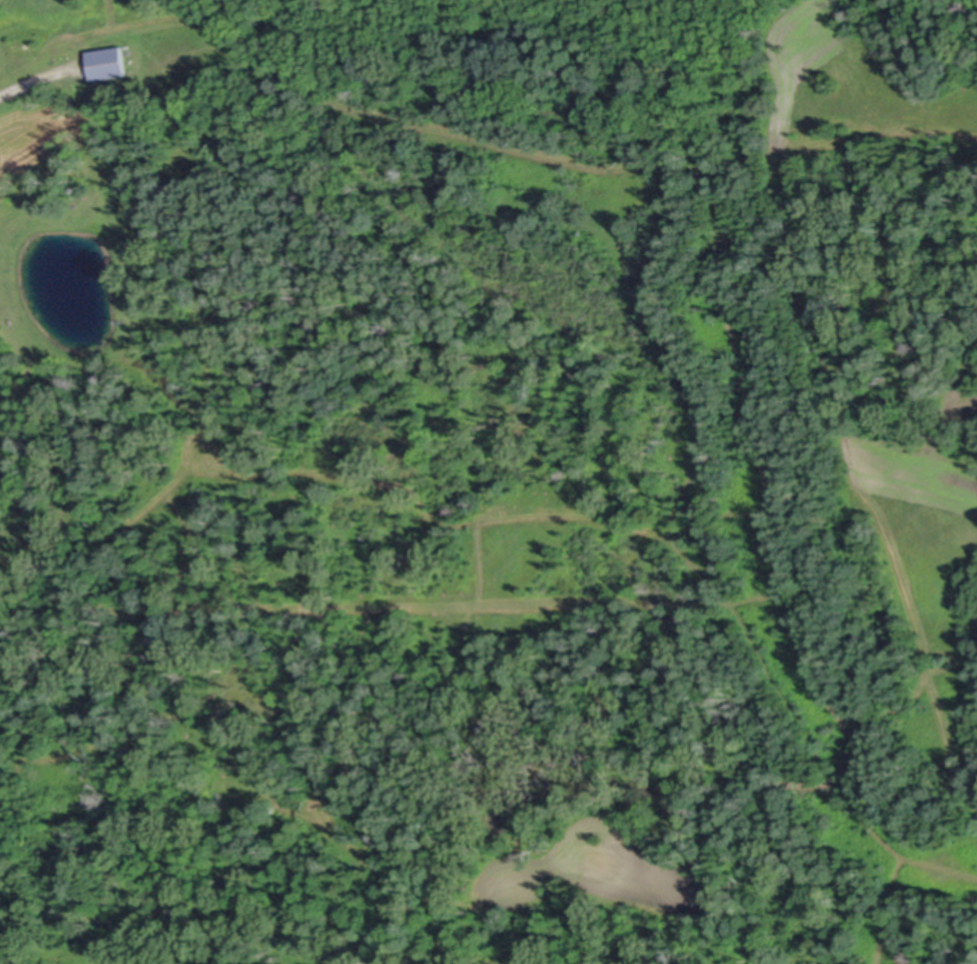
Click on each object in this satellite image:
building: (105, 62)
road: (38, 79)
building: (219, 149)

